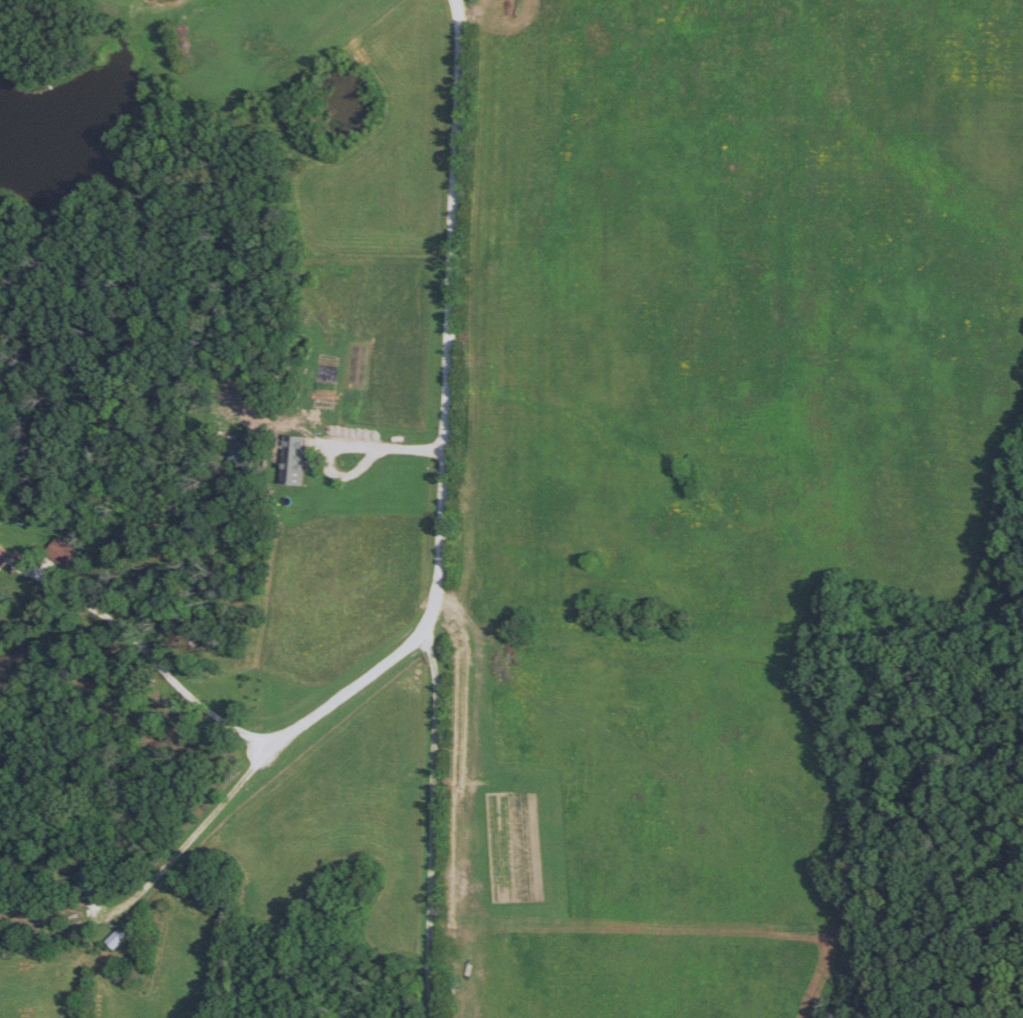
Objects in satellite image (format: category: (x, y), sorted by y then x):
road: (383, 444)
building: (298, 462)
road: (445, 511)
building: (3, 556)
road: (148, 654)
road: (268, 759)
building: (115, 940)

